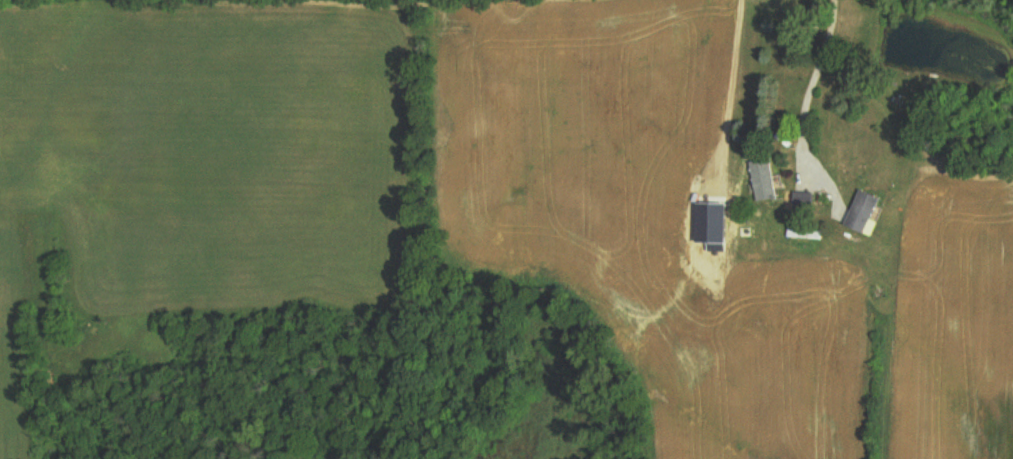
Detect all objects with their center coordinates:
building: (766, 179)
building: (796, 200)
building: (867, 212)
building: (715, 222)

